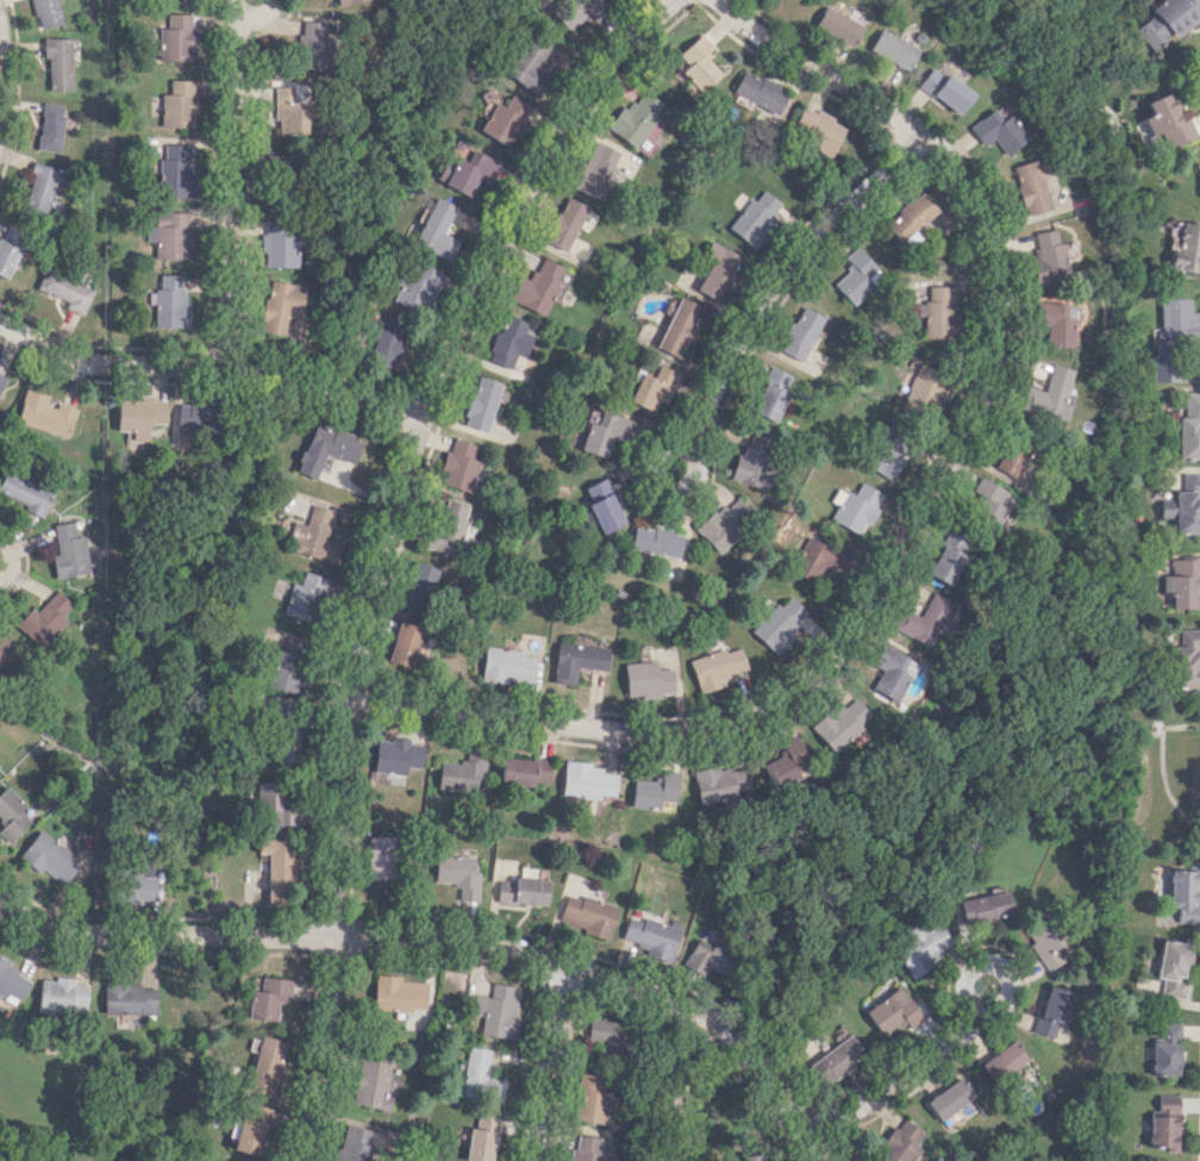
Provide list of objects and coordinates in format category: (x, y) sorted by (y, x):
building: (48, 12)
building: (580, 12)
road: (254, 14)
building: (1167, 20)
building: (839, 26)
building: (176, 38)
building: (313, 45)
building: (894, 49)
building: (60, 63)
building: (698, 64)
building: (531, 65)
road: (820, 69)
road: (1, 70)
road: (1199, 87)
building: (944, 89)
building: (300, 93)
building: (758, 93)
building: (177, 104)
building: (288, 112)
building: (636, 117)
building: (505, 120)
building: (1167, 121)
building: (51, 126)
building: (817, 130)
building: (996, 131)
building: (468, 169)
building: (594, 169)
building: (175, 171)
building: (1030, 186)
building: (43, 187)
road: (226, 188)
building: (910, 217)
building: (755, 218)
building: (564, 223)
building: (437, 229)
building: (168, 235)
building: (277, 245)
building: (1185, 246)
building: (8, 248)
building: (1049, 257)
building: (714, 271)
road: (781, 273)
building: (856, 275)
building: (418, 286)
building: (537, 286)
building: (64, 289)
building: (168, 301)
building: (280, 305)
building: (938, 312)
building: (1056, 323)
building: (1176, 324)
building: (677, 330)
building: (800, 333)
building: (388, 341)
building: (508, 341)
road: (210, 368)
building: (1162, 368)
building: (1, 380)
building: (651, 387)
building: (925, 388)
building: (770, 393)
building: (1048, 395)
building: (481, 404)
building: (43, 413)
building: (138, 413)
building: (202, 416)
building: (1189, 427)
building: (604, 432)
building: (326, 448)
building: (886, 455)
building: (1012, 456)
building: (755, 460)
building: (460, 466)
road: (670, 488)
building: (25, 492)
building: (988, 500)
building: (602, 506)
building: (1185, 506)
building: (855, 507)
building: (725, 523)
building: (449, 526)
building: (314, 537)
building: (656, 541)
road: (383, 547)
building: (69, 551)
building: (946, 558)
road: (11, 560)
building: (819, 561)
building: (1181, 581)
building: (419, 585)
building: (302, 597)
building: (44, 618)
building: (925, 620)
road: (843, 622)
building: (780, 623)
building: (1187, 658)
building: (577, 661)
building: (510, 664)
building: (717, 667)
building: (286, 670)
building: (646, 679)
building: (839, 722)
building: (396, 755)
building: (785, 763)
building: (463, 770)
building: (525, 770)
building: (587, 780)
building: (720, 782)
building: (654, 792)
building: (267, 794)
building: (11, 814)
building: (275, 816)
building: (380, 856)
building: (56, 862)
building: (276, 864)
building: (458, 875)
building: (139, 884)
building: (521, 891)
building: (1183, 893)
building: (986, 906)
building: (587, 913)
building: (648, 936)
road: (374, 938)
building: (1046, 943)
building: (920, 948)
building: (705, 957)
road: (987, 962)
building: (1173, 968)
building: (13, 980)
building: (452, 984)
building: (399, 992)
building: (61, 994)
building: (265, 997)
building: (129, 998)
building: (496, 1010)
building: (894, 1011)
building: (1051, 1011)
building: (1168, 1032)
building: (601, 1036)
building: (837, 1059)
building: (1164, 1059)
road: (546, 1061)
building: (1004, 1062)
building: (264, 1066)
building: (480, 1076)
road: (899, 1078)
building: (370, 1082)
road: (785, 1094)
building: (589, 1098)
building: (950, 1103)
building: (1165, 1123)
building: (249, 1128)
building: (481, 1138)
building: (902, 1142)
building: (354, 1143)
building: (585, 1148)
road: (1199, 1153)
building: (755, 1157)

